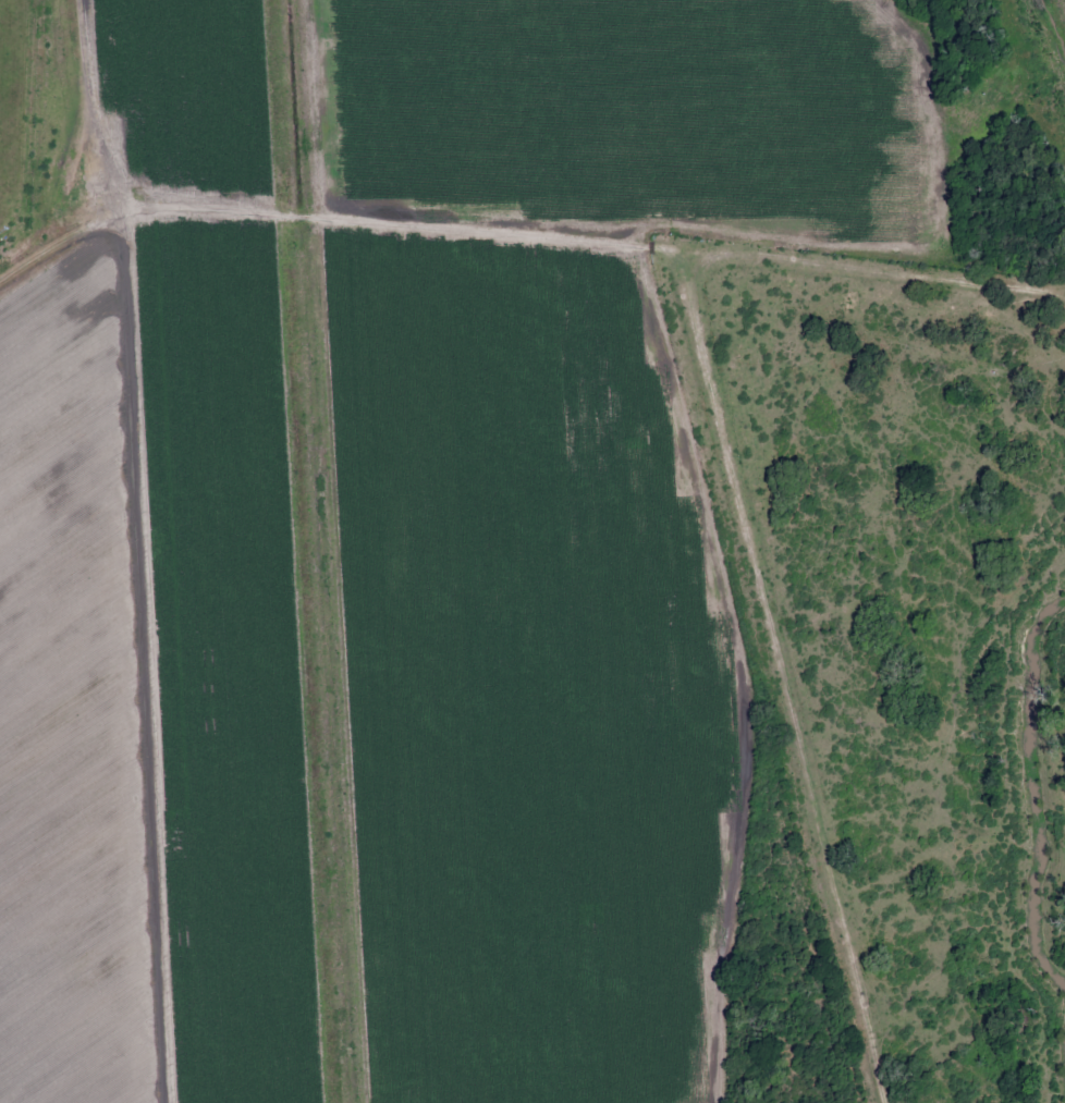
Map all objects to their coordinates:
road: (742, 501)

